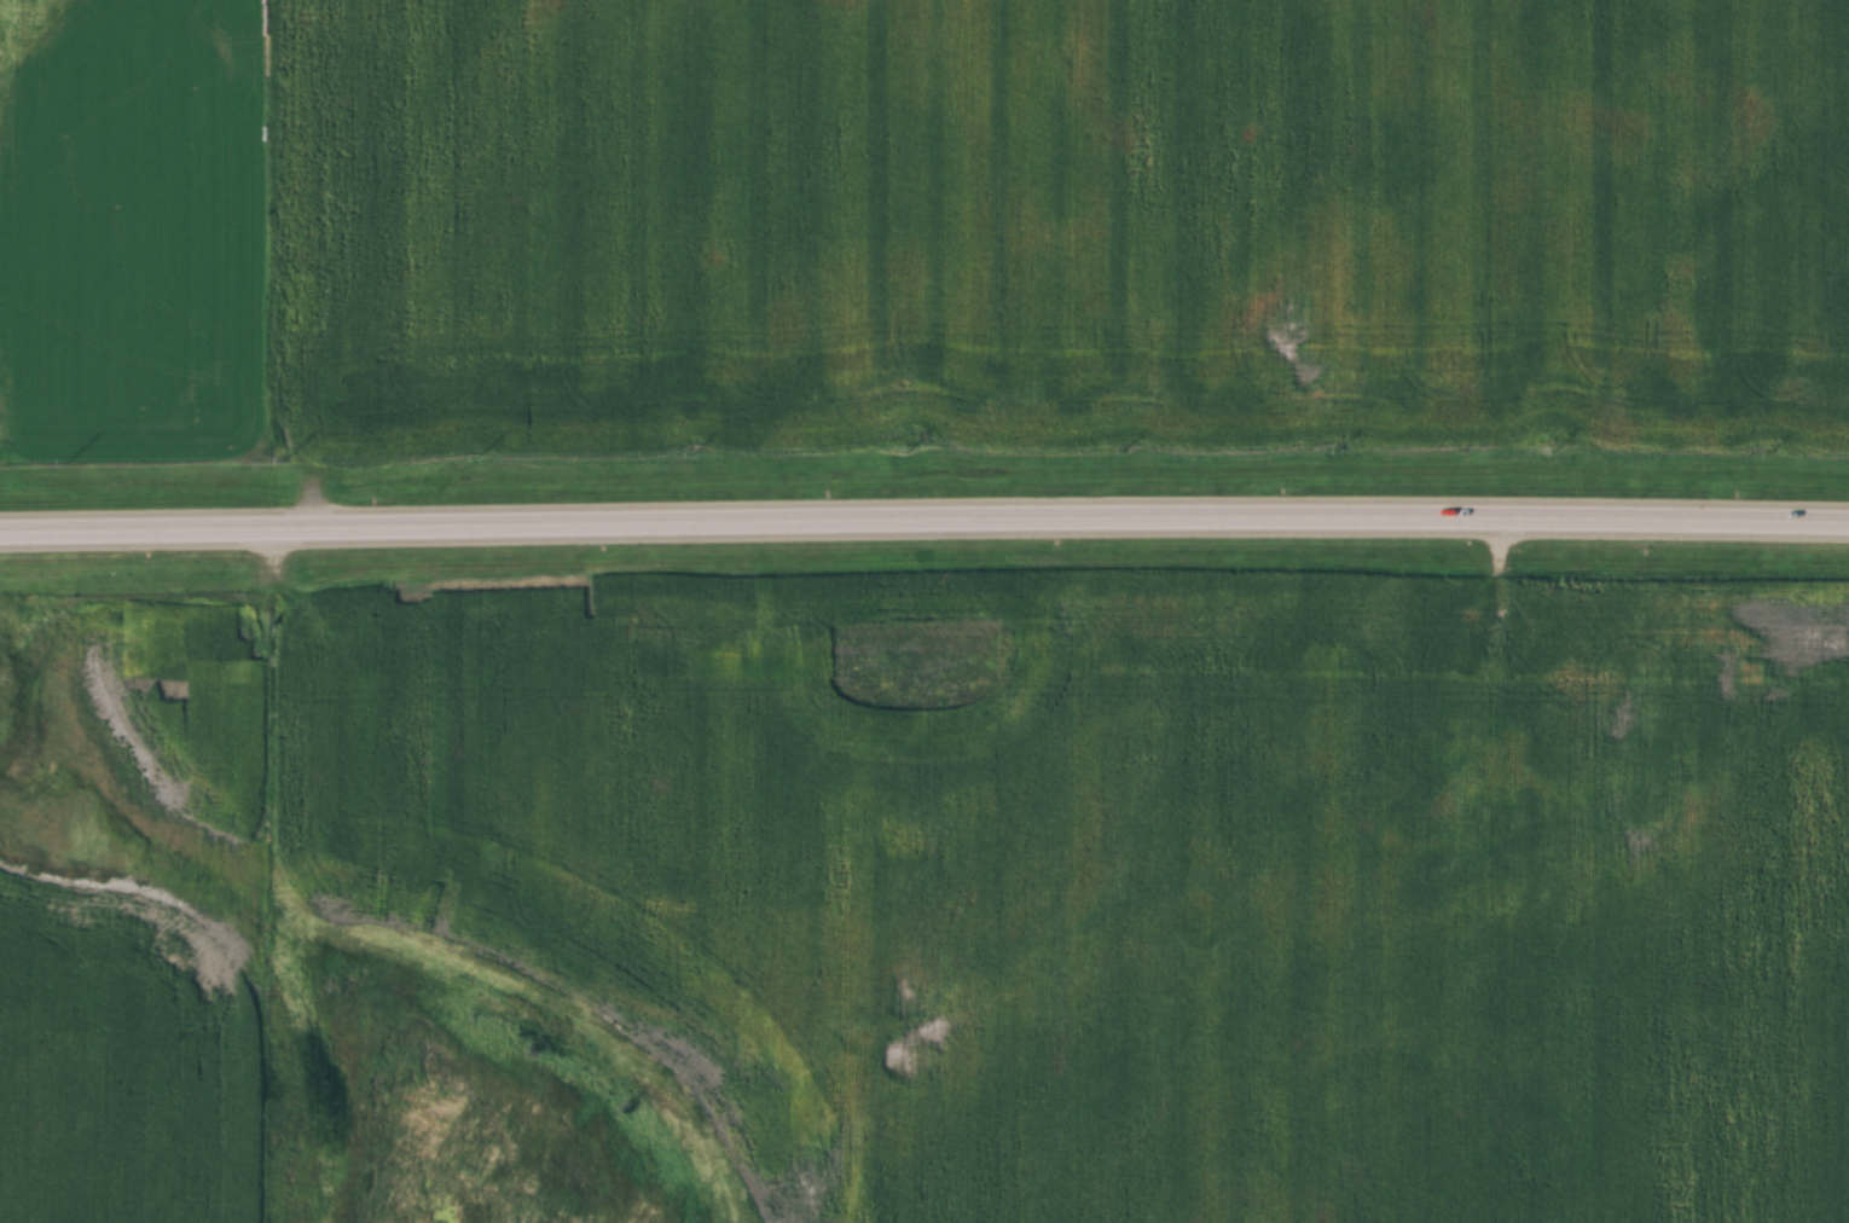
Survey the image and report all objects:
road: (924, 517)

